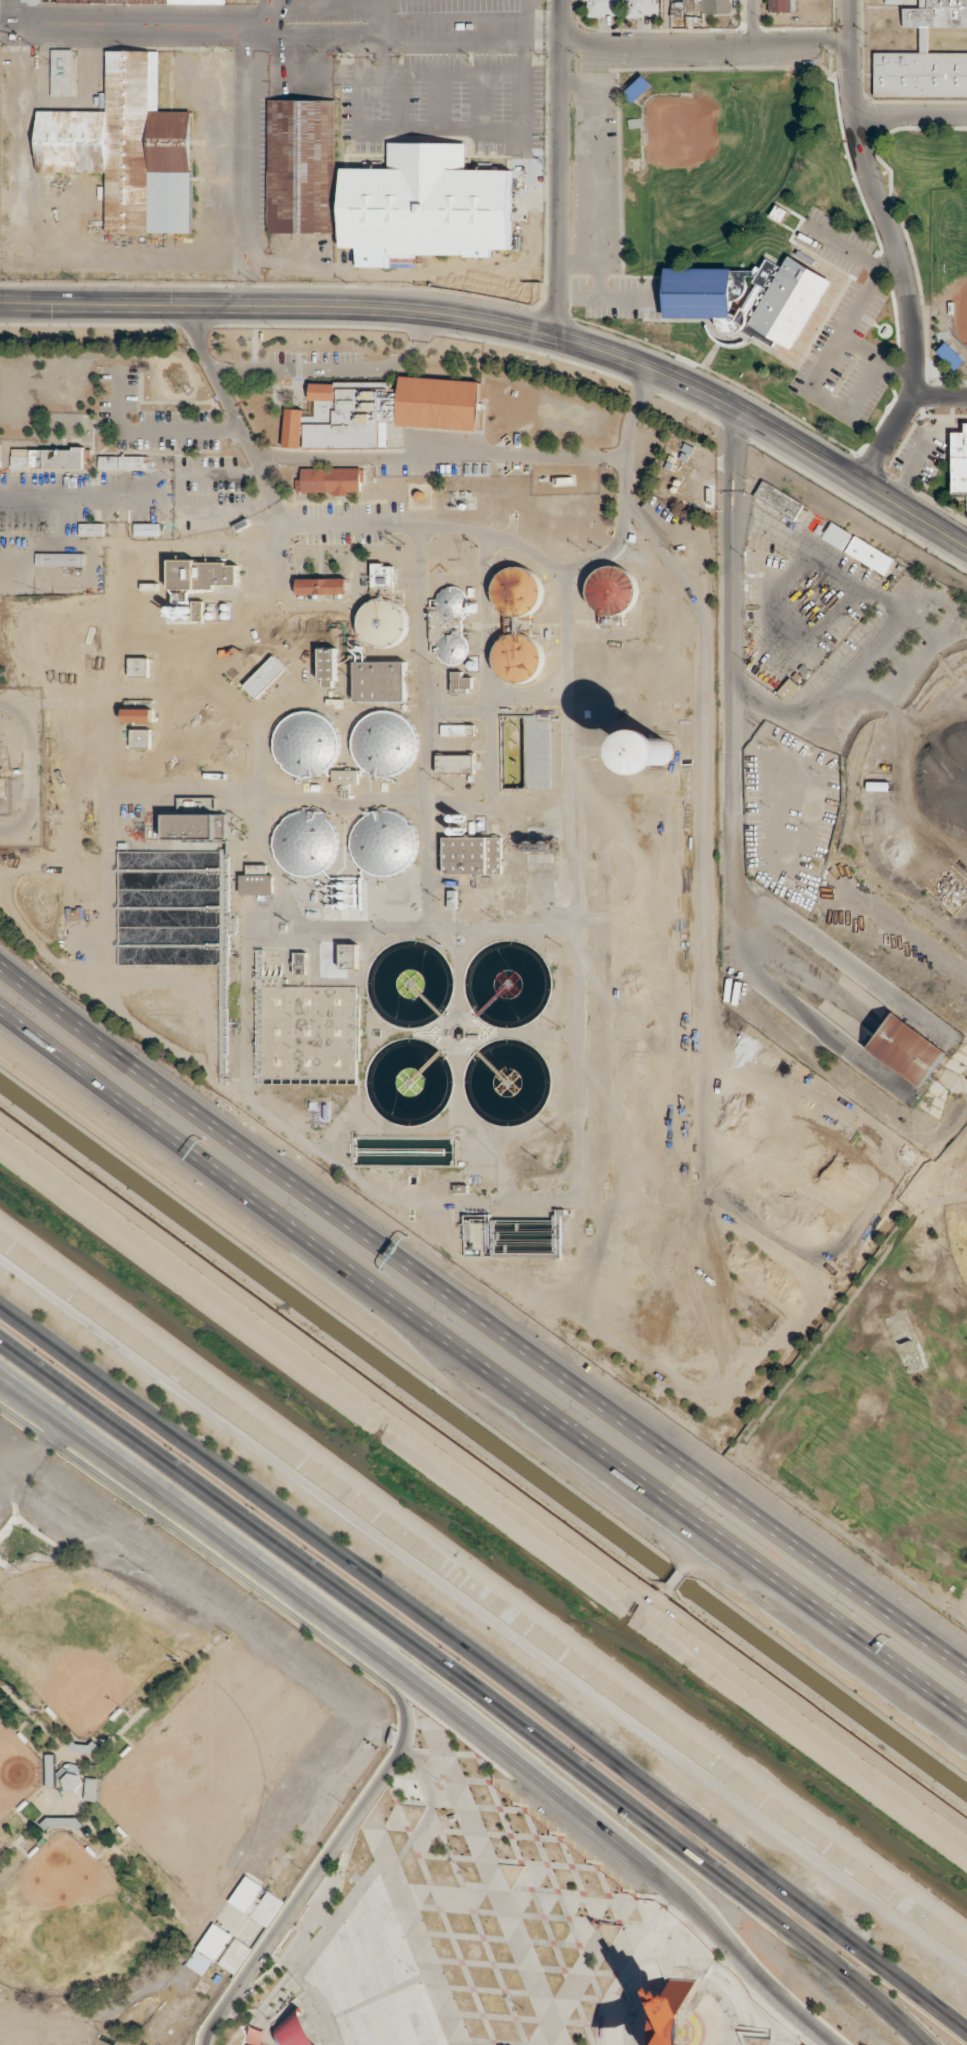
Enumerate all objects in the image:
building: (39, 0)
building: (168, 0)
building: (893, 1)
road: (264, 5)
road: (312, 5)
building: (642, 8)
road: (665, 18)
road: (217, 19)
road: (754, 19)
road: (473, 29)
road: (705, 37)
road: (360, 52)
road: (387, 52)
building: (924, 56)
building: (62, 72)
road: (520, 74)
road: (396, 101)
road: (438, 102)
road: (479, 102)
building: (127, 147)
park: (719, 160)
building: (300, 165)
road: (559, 168)
building: (531, 192)
road: (877, 197)
building: (424, 204)
park: (778, 248)
park: (960, 262)
stadium: (948, 280)
building: (747, 299)
road: (449, 315)
road: (939, 397)
building: (380, 411)
road: (888, 439)
building: (48, 458)
building: (108, 462)
building: (131, 462)
building: (959, 462)
building: (329, 480)
building: (778, 499)
road: (914, 515)
building: (92, 529)
building: (147, 529)
building: (837, 535)
building: (870, 555)
building: (61, 560)
building: (203, 574)
building: (382, 575)
building: (321, 586)
building: (612, 590)
building: (517, 591)
building: (197, 610)
building: (383, 622)
building: (451, 624)
building: (517, 657)
building: (328, 665)
building: (139, 666)
building: (265, 677)
building: (380, 681)
building: (460, 683)
building: (788, 689)
building: (138, 716)
building: (457, 730)
building: (306, 743)
building: (384, 743)
building: (657, 750)
water tower: (665, 751)
building: (455, 763)
road: (27, 765)
building: (345, 777)
building: (195, 826)
building: (305, 842)
building: (384, 842)
building: (472, 855)
building: (560, 875)
building: (257, 882)
building: (349, 955)
building: (907, 1041)
park: (958, 1234)
road: (480, 1319)
road: (482, 1364)
park: (888, 1399)
road: (756, 1428)
road: (22, 1460)
river: (484, 1542)
road: (479, 1614)
road: (957, 1623)
park: (78, 1639)
road: (477, 1667)
road: (366, 1683)
road: (458, 1685)
road: (428, 1691)
park: (15, 1768)
park: (146, 1770)
park: (206, 1775)
park: (68, 1923)
park: (489, 1935)
road: (958, 2030)
road: (908, 2040)

